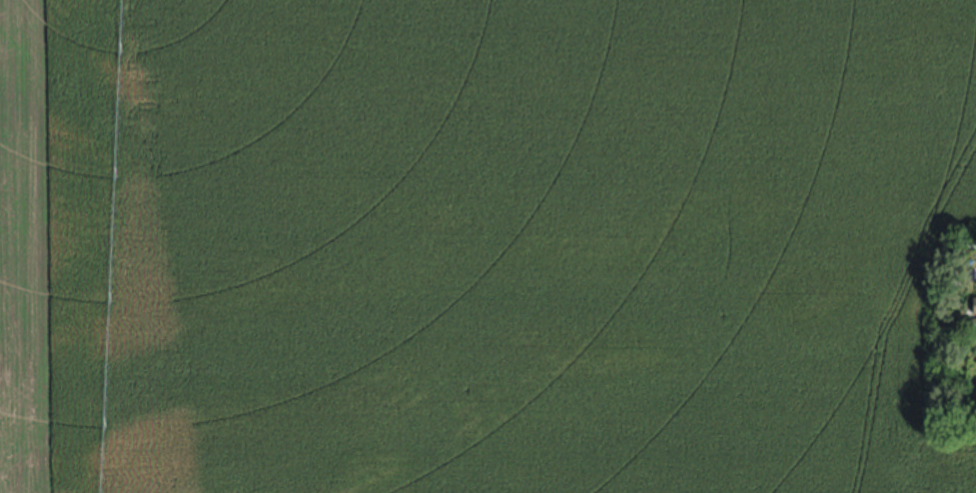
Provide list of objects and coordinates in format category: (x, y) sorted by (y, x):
building: (975, 293)

